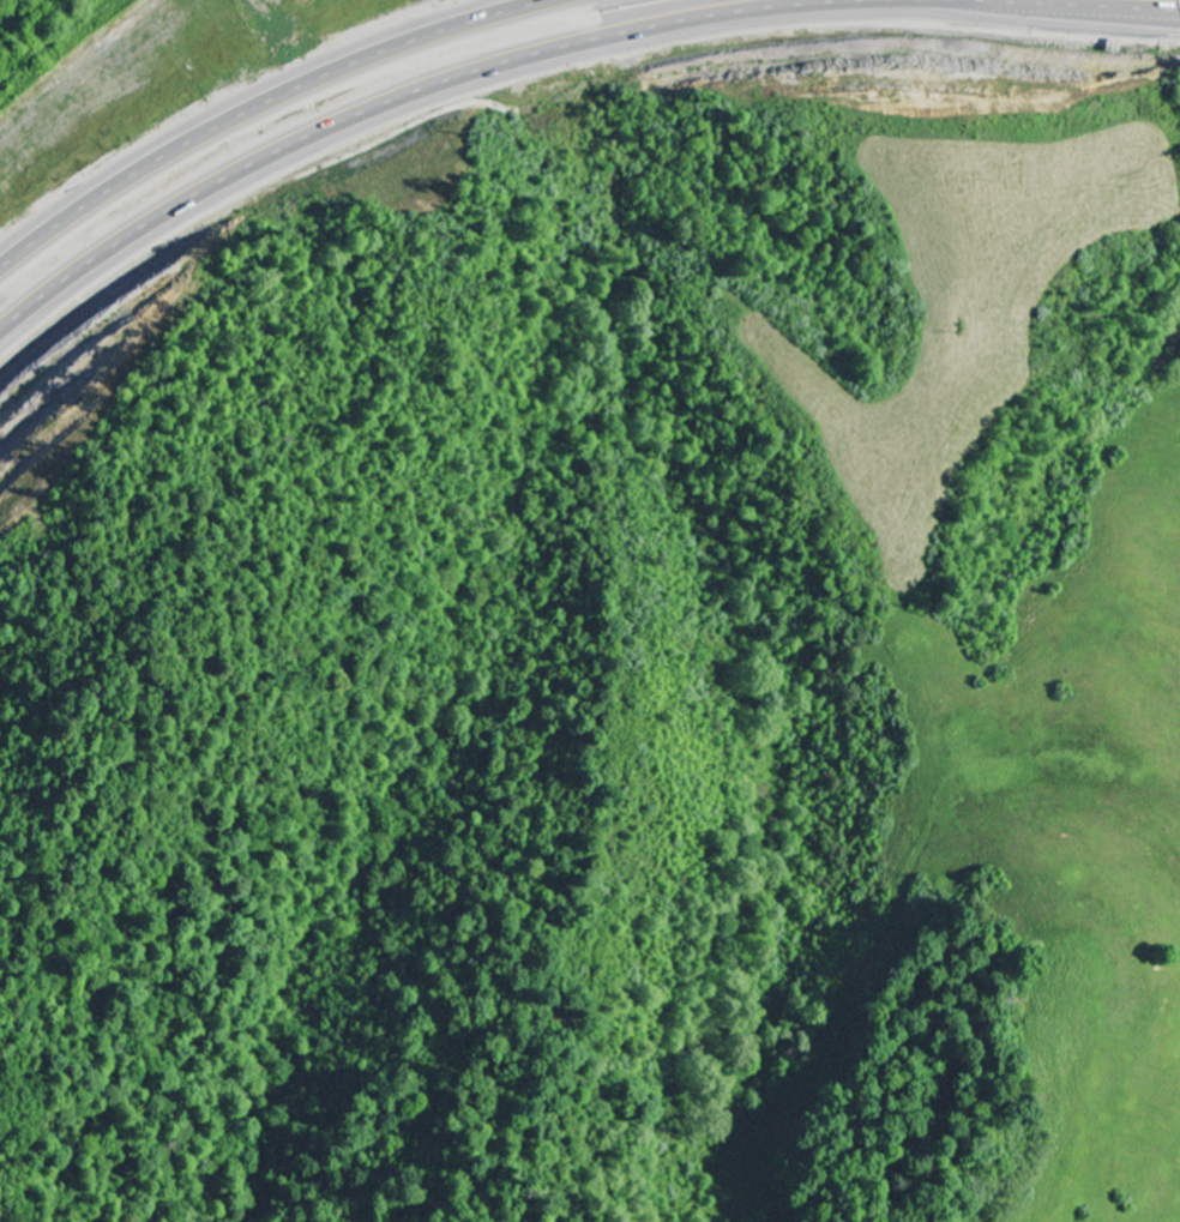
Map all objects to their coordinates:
road: (1179, 17)
road: (552, 47)
road: (258, 102)

